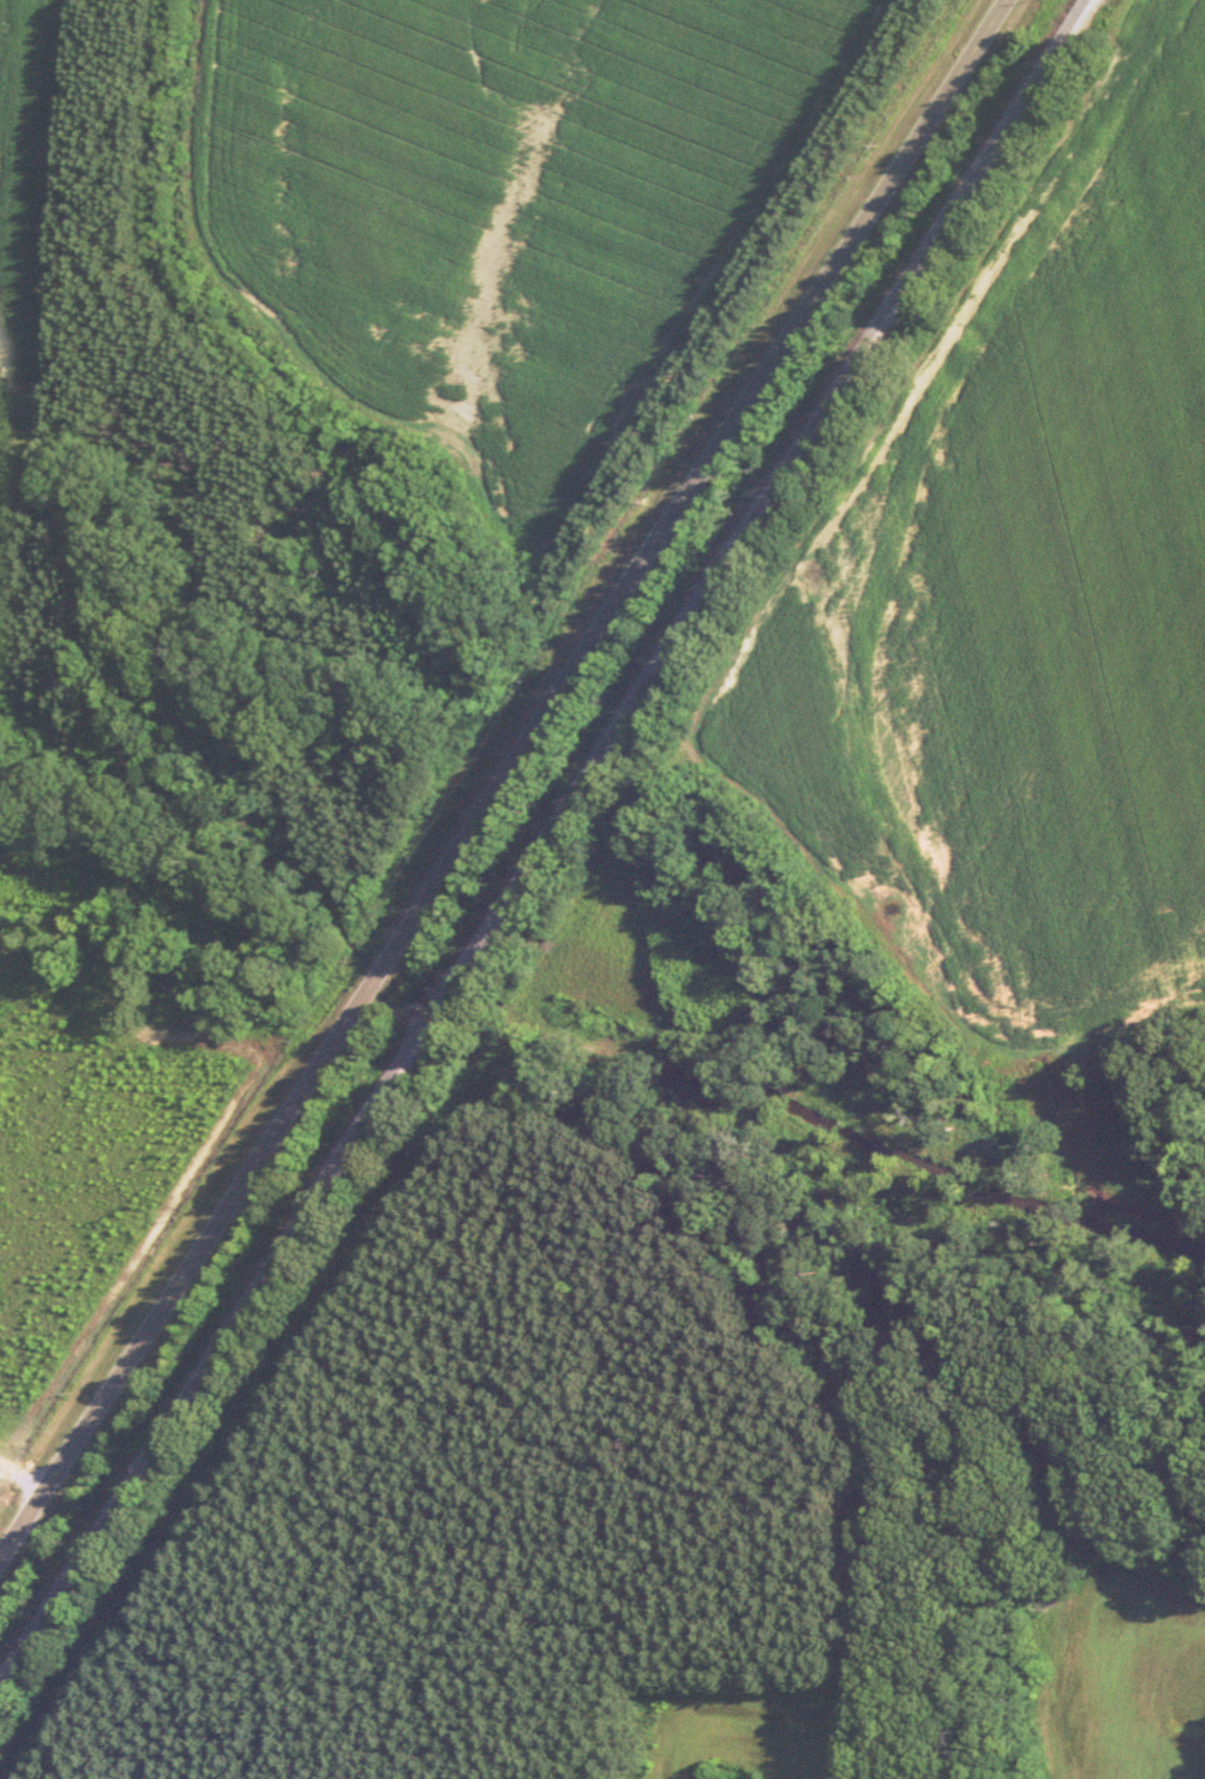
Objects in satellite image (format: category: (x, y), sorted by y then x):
road: (500, 780)
railway: (548, 847)

